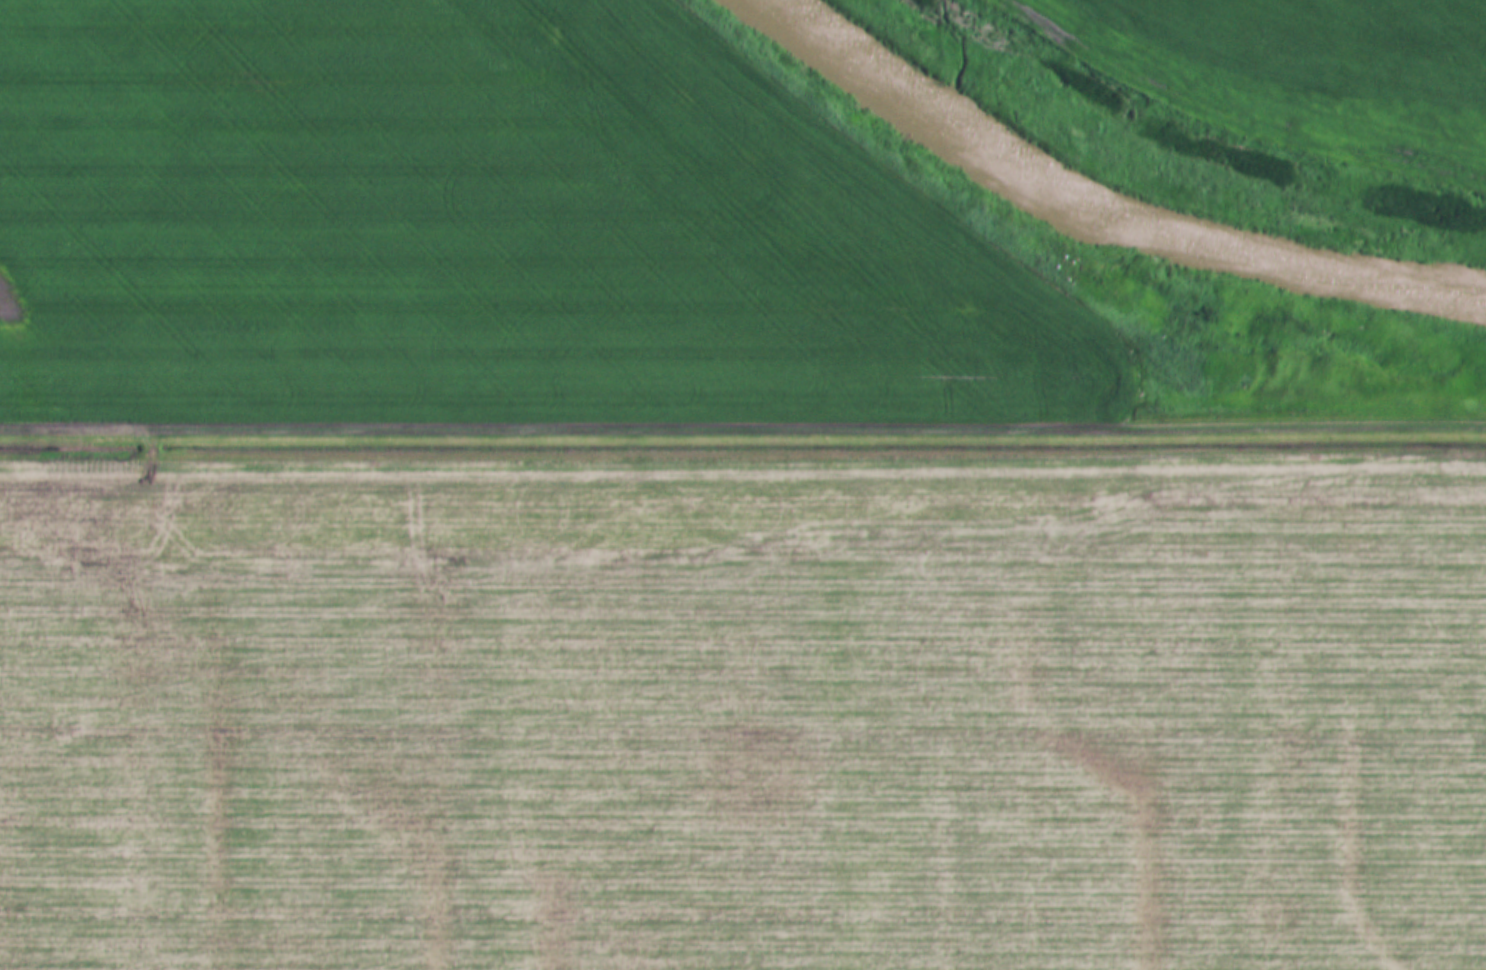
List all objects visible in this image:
river: (871, 53)
crop: (1307, 69)
crop: (476, 228)
river: (1209, 232)
road: (743, 429)
crop: (744, 709)

